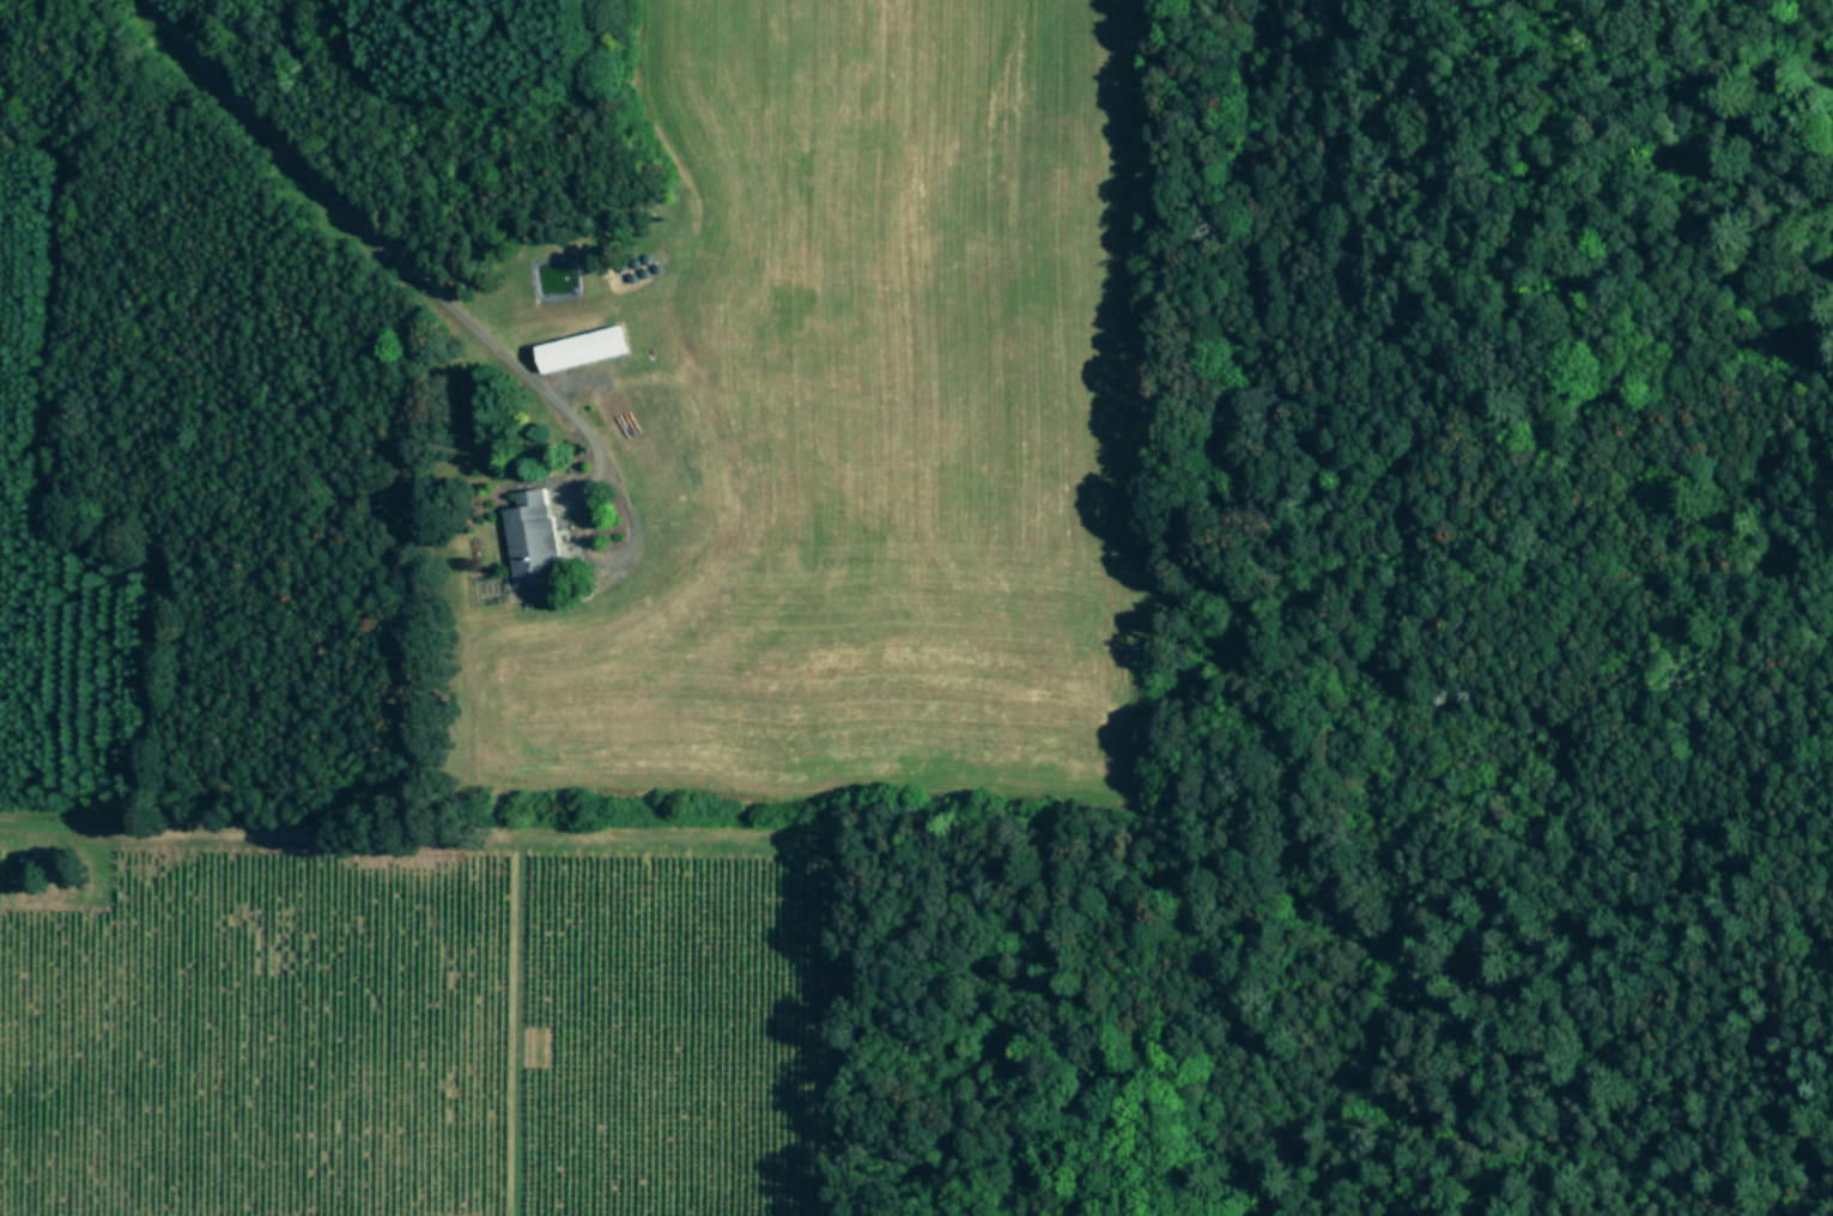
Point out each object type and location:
road: (363, 229)
building: (584, 347)
building: (535, 536)

